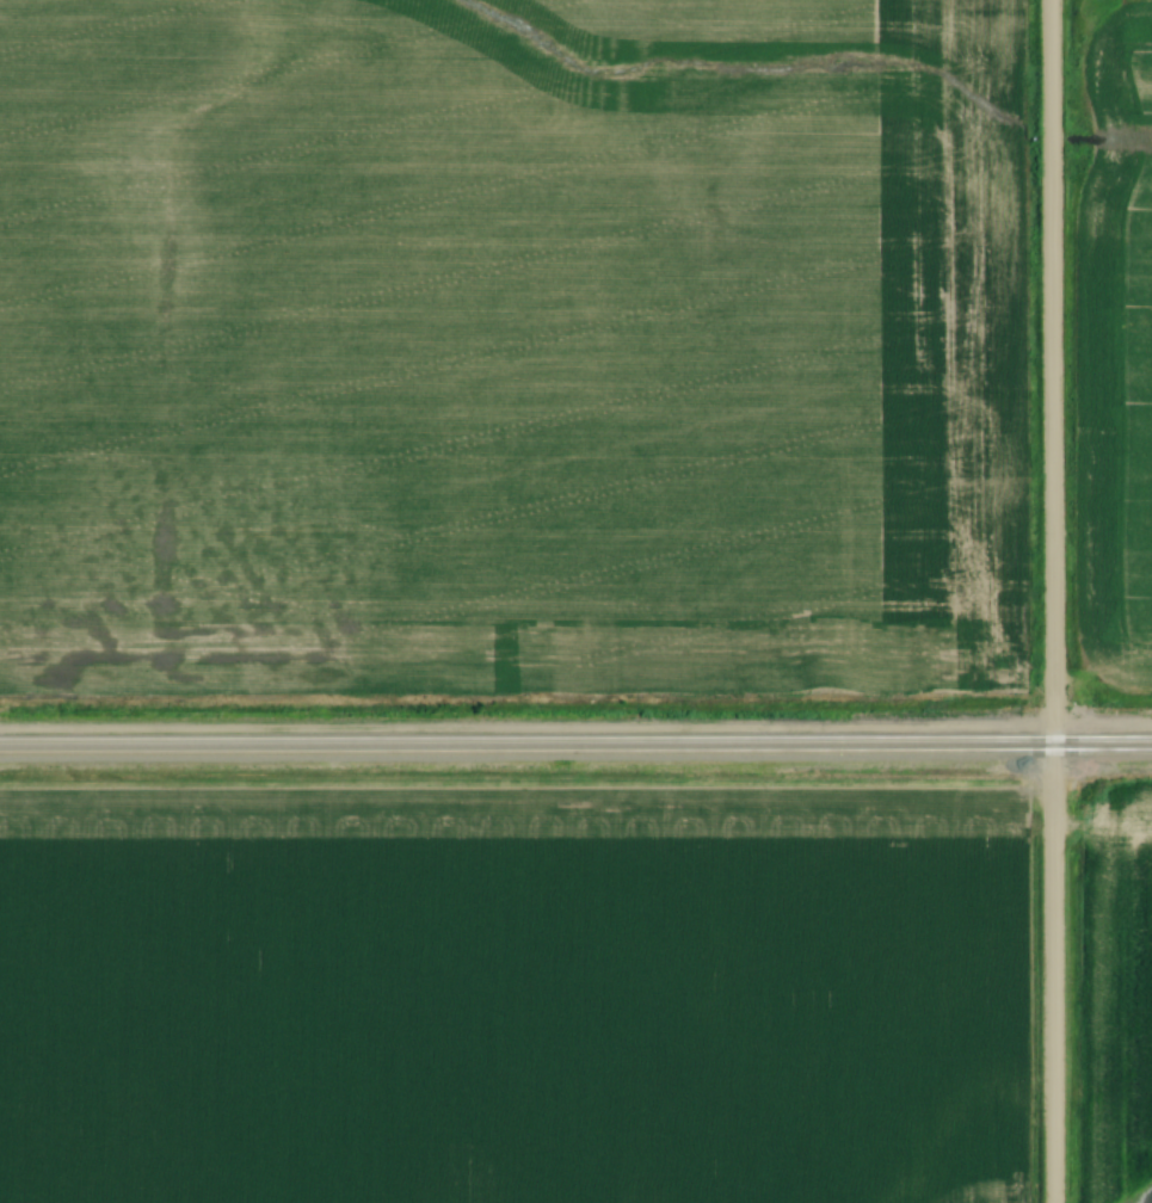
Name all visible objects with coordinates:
road: (1051, 601)
railway: (575, 735)
railway: (575, 752)

